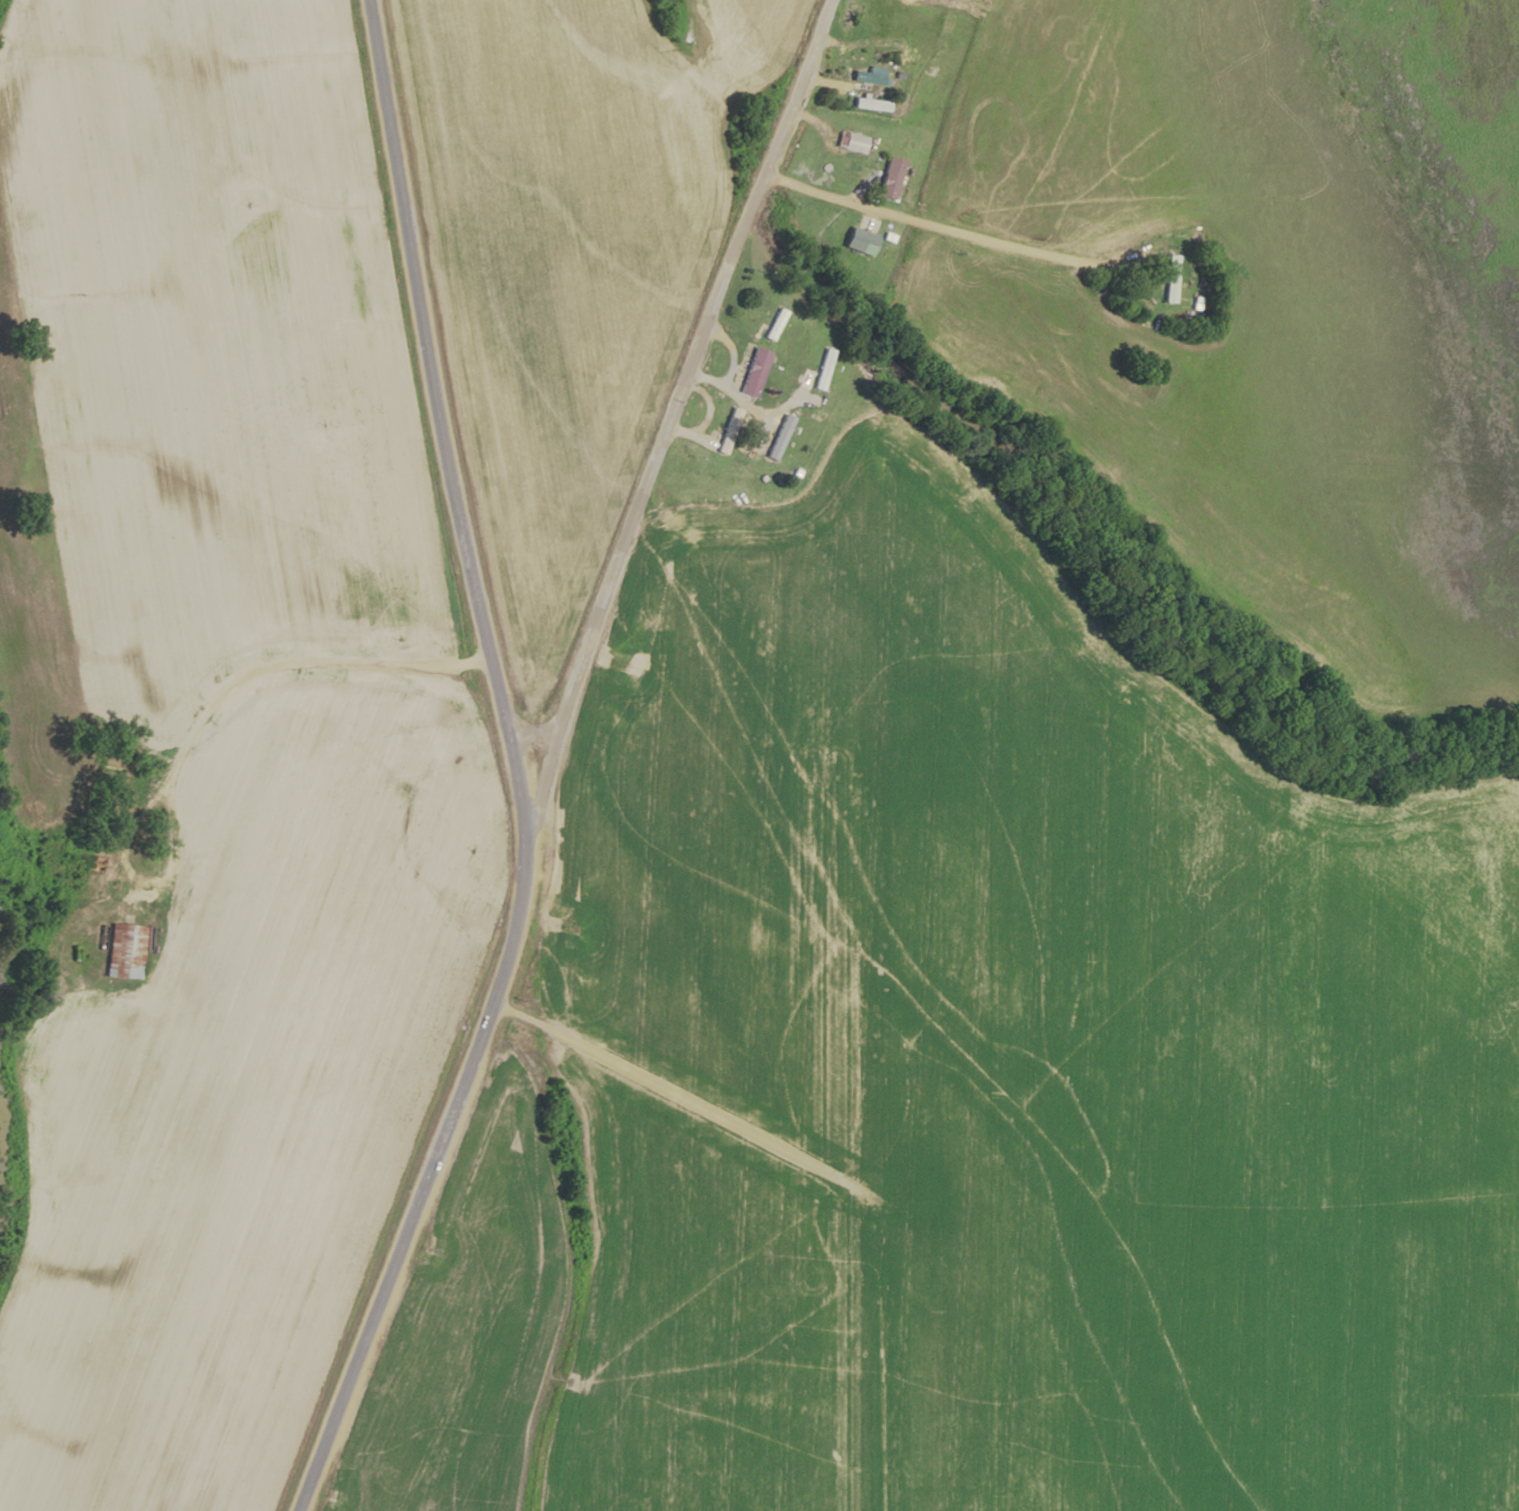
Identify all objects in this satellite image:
building: (870, 75)
building: (872, 104)
building: (852, 142)
building: (891, 177)
road: (959, 204)
building: (861, 241)
building: (1172, 279)
building: (777, 325)
building: (825, 369)
building: (755, 372)
road: (690, 390)
building: (729, 431)
building: (780, 437)
road: (238, 665)
road: (534, 734)
road: (514, 762)
road: (533, 832)
building: (125, 951)
road: (681, 1088)

